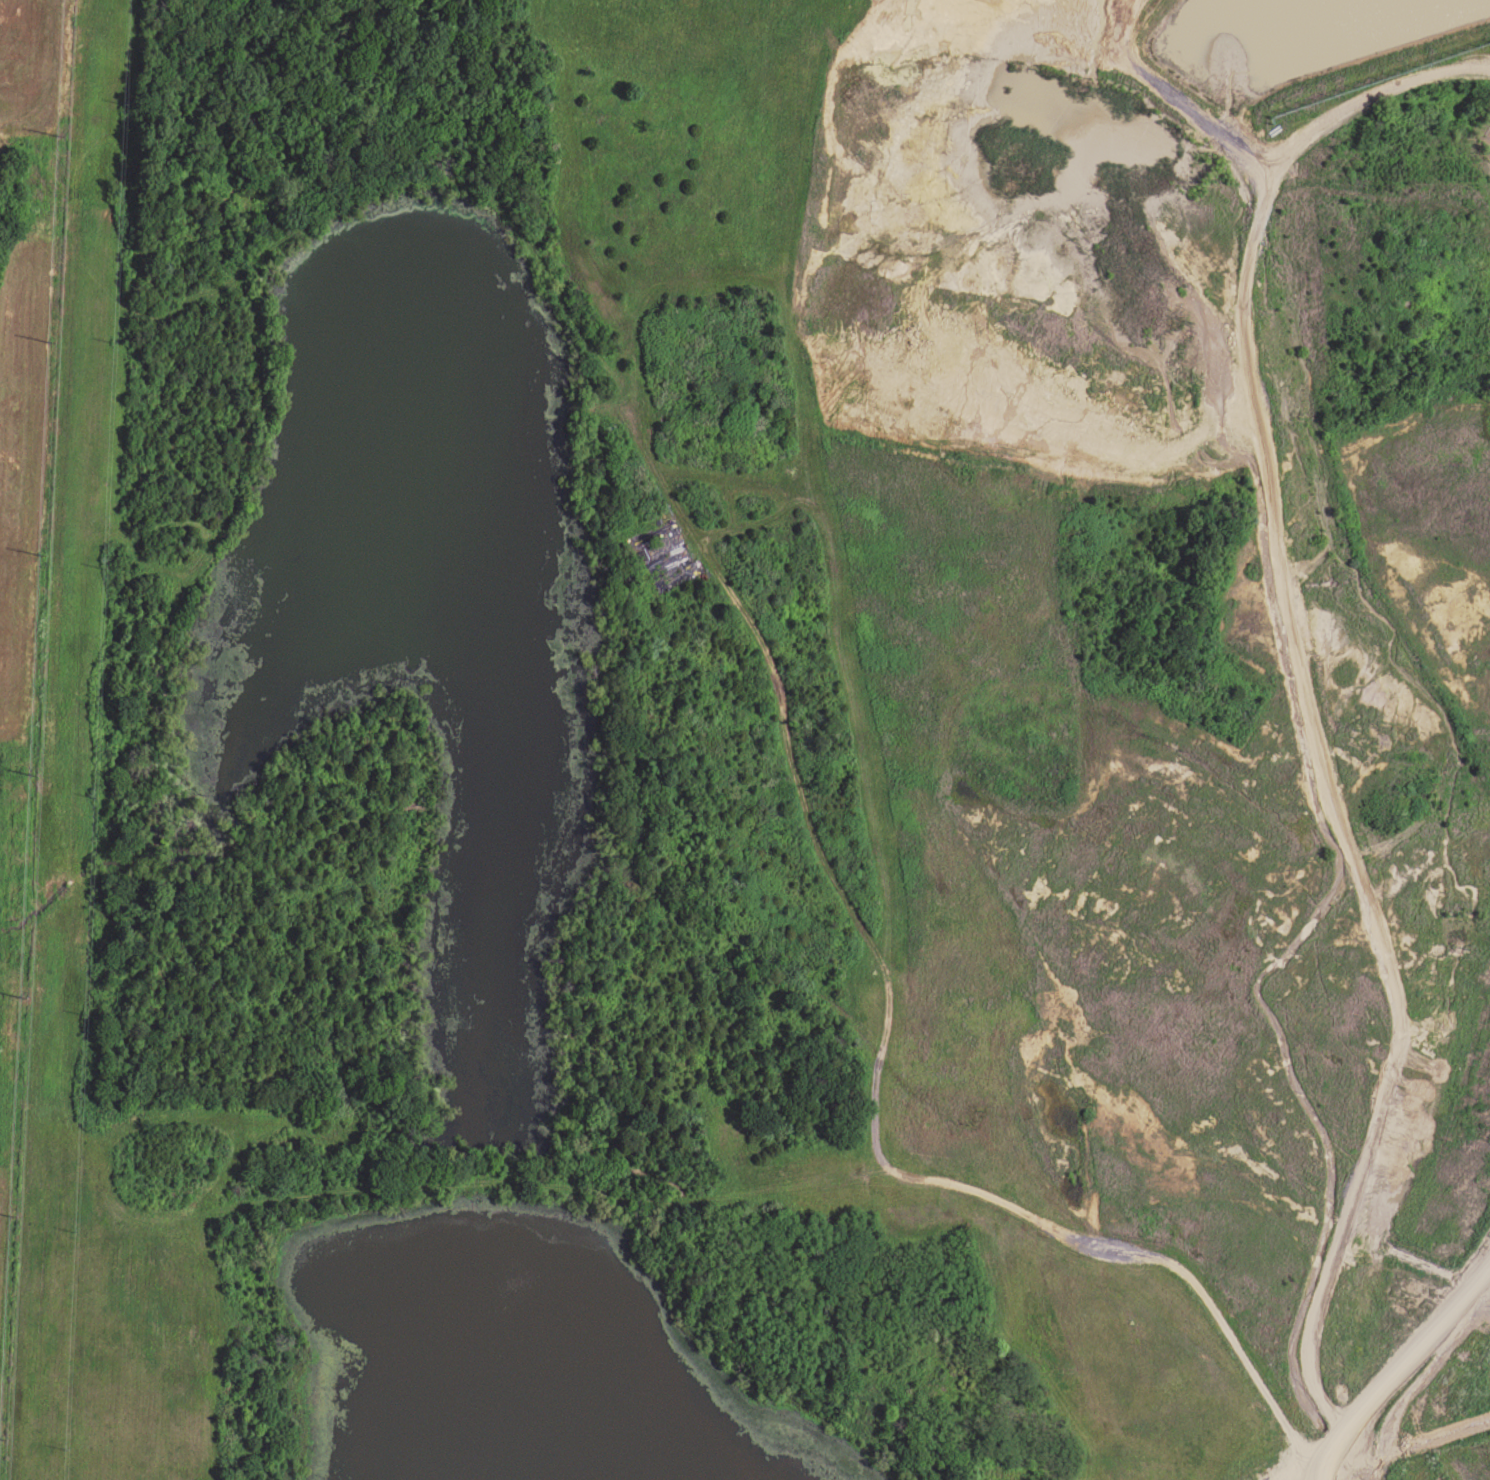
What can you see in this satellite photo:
power tower: (61, 131)
power tower: (53, 338)
power tower: (44, 548)
power tower: (35, 770)
power tower: (24, 993)
power tower: (13, 1212)
road: (1072, 1246)
power tower: (3, 1435)

